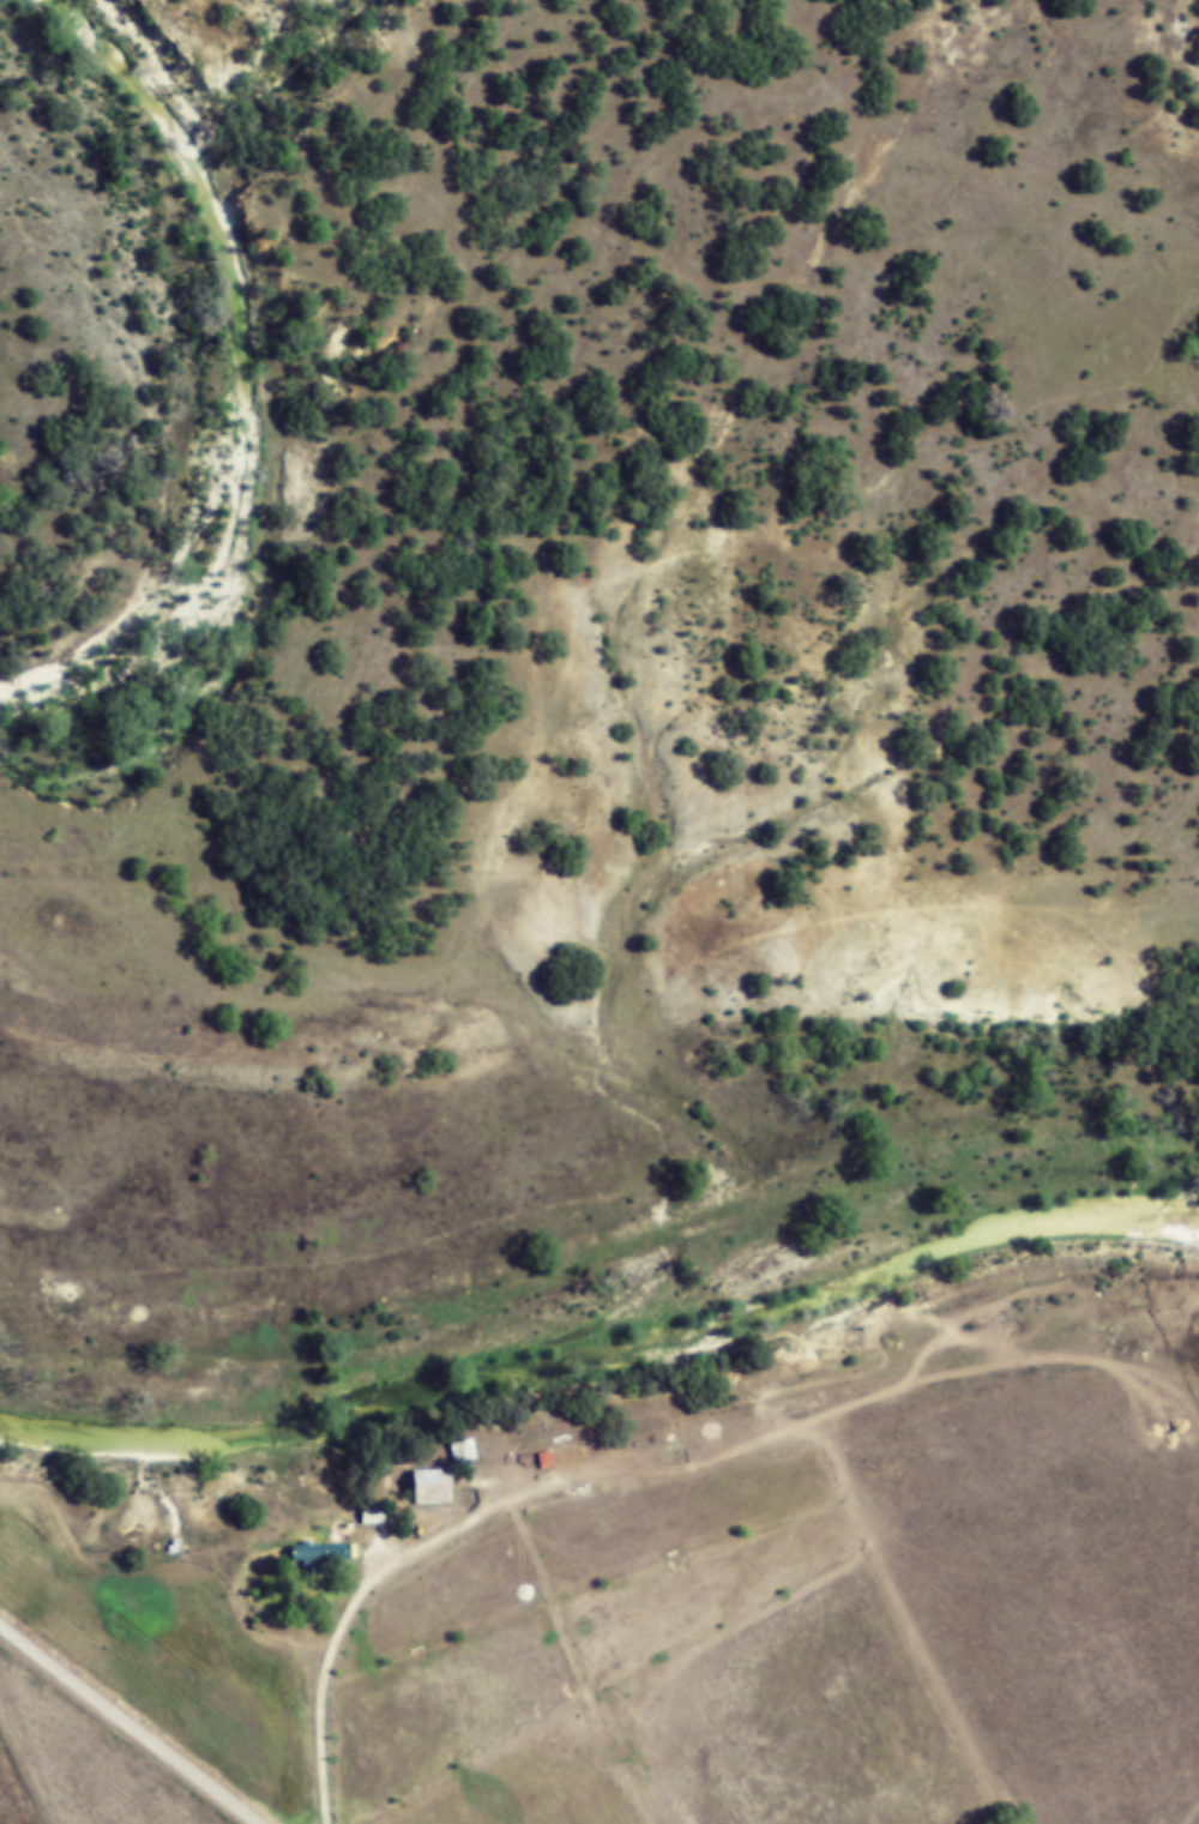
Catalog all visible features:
river: (261, 381)
river: (602, 1342)
building: (464, 1450)
building: (434, 1487)
building: (373, 1515)
building: (319, 1558)
road: (134, 1722)

